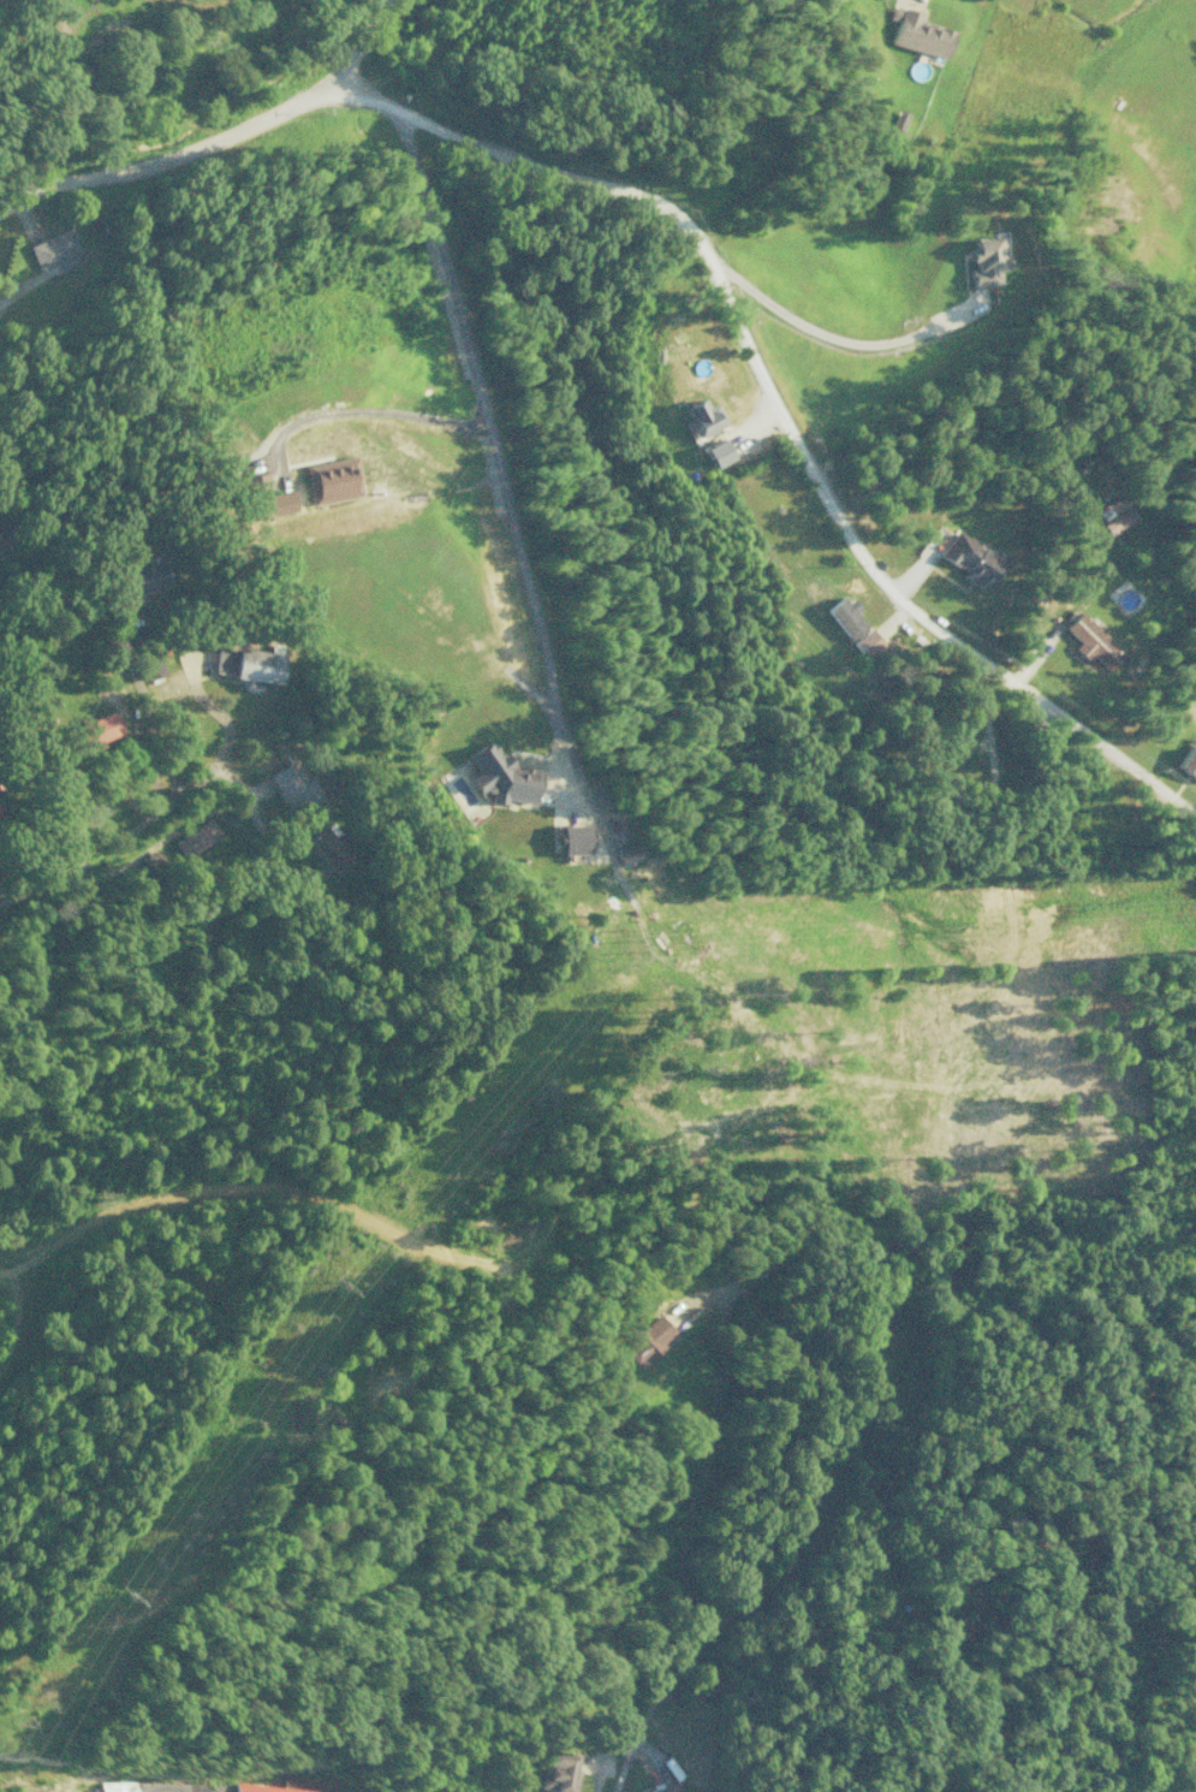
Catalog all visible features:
road: (731, 2)
building: (916, 32)
road: (221, 147)
building: (54, 250)
building: (986, 261)
road: (831, 342)
road: (480, 373)
road: (781, 414)
building: (702, 416)
building: (716, 452)
building: (332, 479)
building: (1118, 520)
building: (966, 558)
building: (147, 576)
building: (844, 617)
building: (1090, 641)
building: (148, 664)
building: (245, 664)
building: (100, 680)
building: (97, 729)
building: (1186, 763)
building: (500, 776)
building: (293, 789)
road: (175, 795)
building: (1, 814)
building: (195, 837)
building: (569, 838)
road: (148, 843)
building: (327, 848)
building: (626, 854)
power tower: (639, 945)
power tower: (343, 1284)
building: (879, 1319)
building: (644, 1341)
power tower: (132, 1598)
building: (558, 1772)
building: (160, 1786)
building: (666, 1787)
building: (261, 1788)

